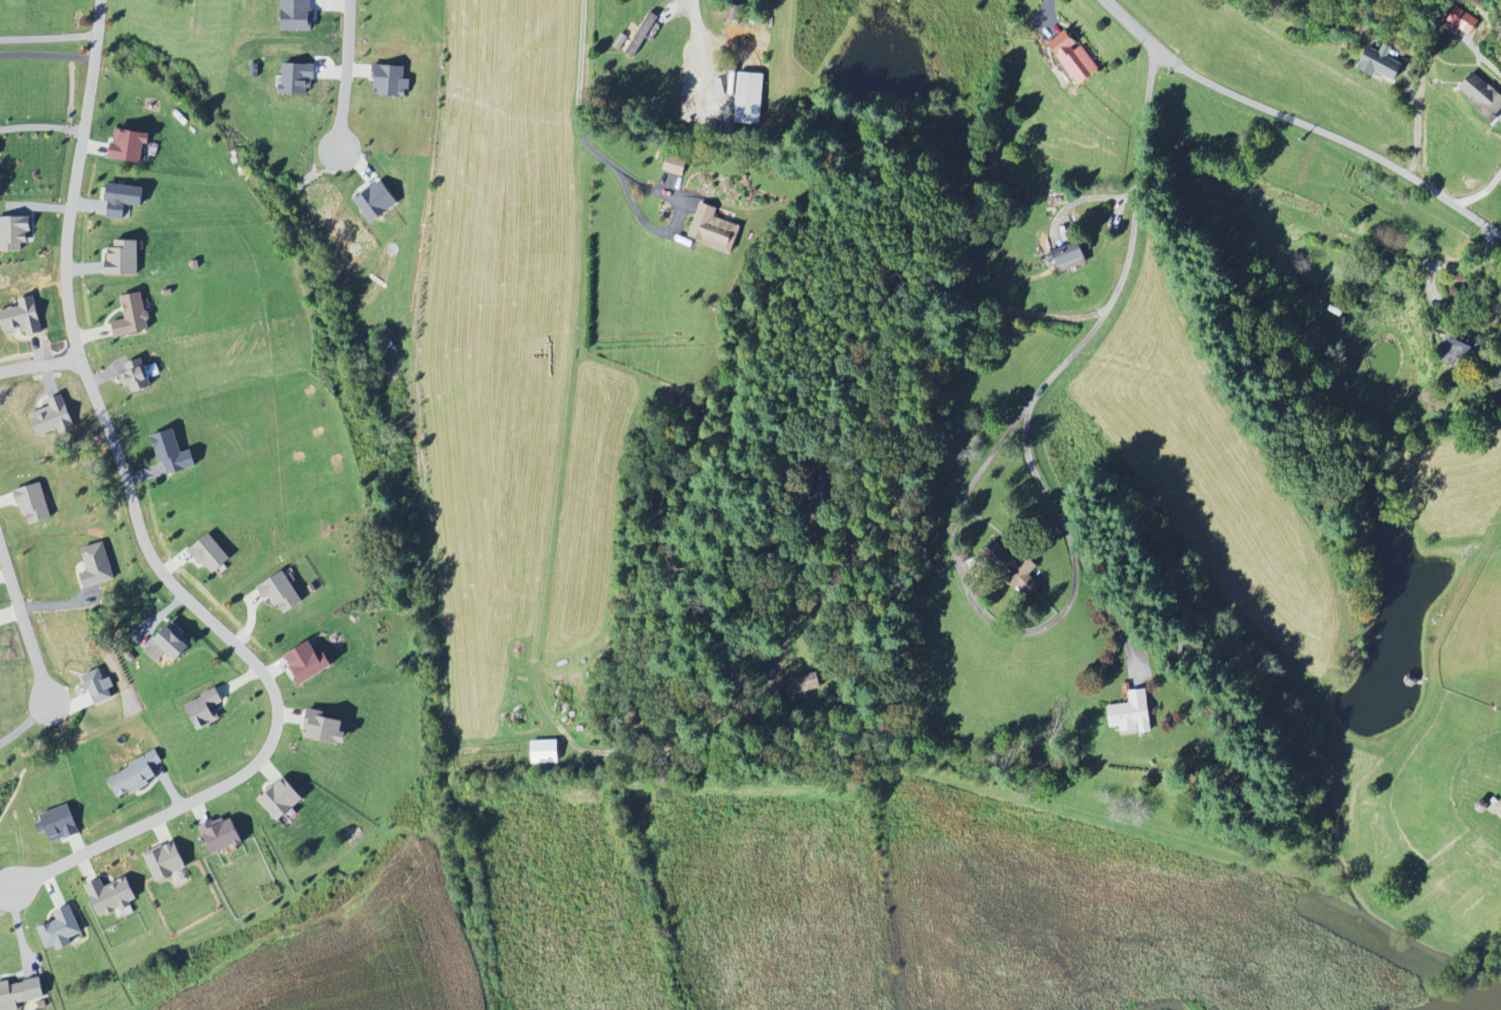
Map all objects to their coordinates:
building: (296, 15)
road: (696, 31)
road: (47, 39)
building: (1074, 58)
road: (1487, 58)
building: (1380, 63)
road: (348, 75)
building: (297, 77)
building: (391, 81)
road: (578, 94)
building: (1482, 95)
building: (749, 98)
road: (1299, 121)
road: (40, 125)
building: (129, 145)
building: (674, 165)
road: (1482, 193)
building: (122, 199)
building: (376, 201)
road: (673, 226)
building: (713, 230)
building: (14, 233)
road: (1489, 254)
building: (1071, 255)
building: (123, 258)
road: (1441, 264)
building: (132, 316)
building: (22, 318)
road: (915, 327)
building: (1456, 349)
road: (39, 364)
building: (136, 377)
building: (53, 418)
road: (1027, 424)
building: (172, 453)
building: (33, 503)
road: (145, 542)
building: (210, 554)
building: (96, 566)
road: (965, 581)
building: (282, 593)
road: (24, 623)
building: (167, 646)
building: (308, 663)
building: (801, 684)
building: (99, 687)
building: (205, 710)
building: (1132, 714)
building: (324, 729)
building: (545, 752)
building: (135, 776)
building: (282, 799)
building: (1499, 809)
building: (58, 824)
building: (222, 836)
building: (165, 861)
building: (111, 897)
building: (61, 930)
building: (20, 993)

